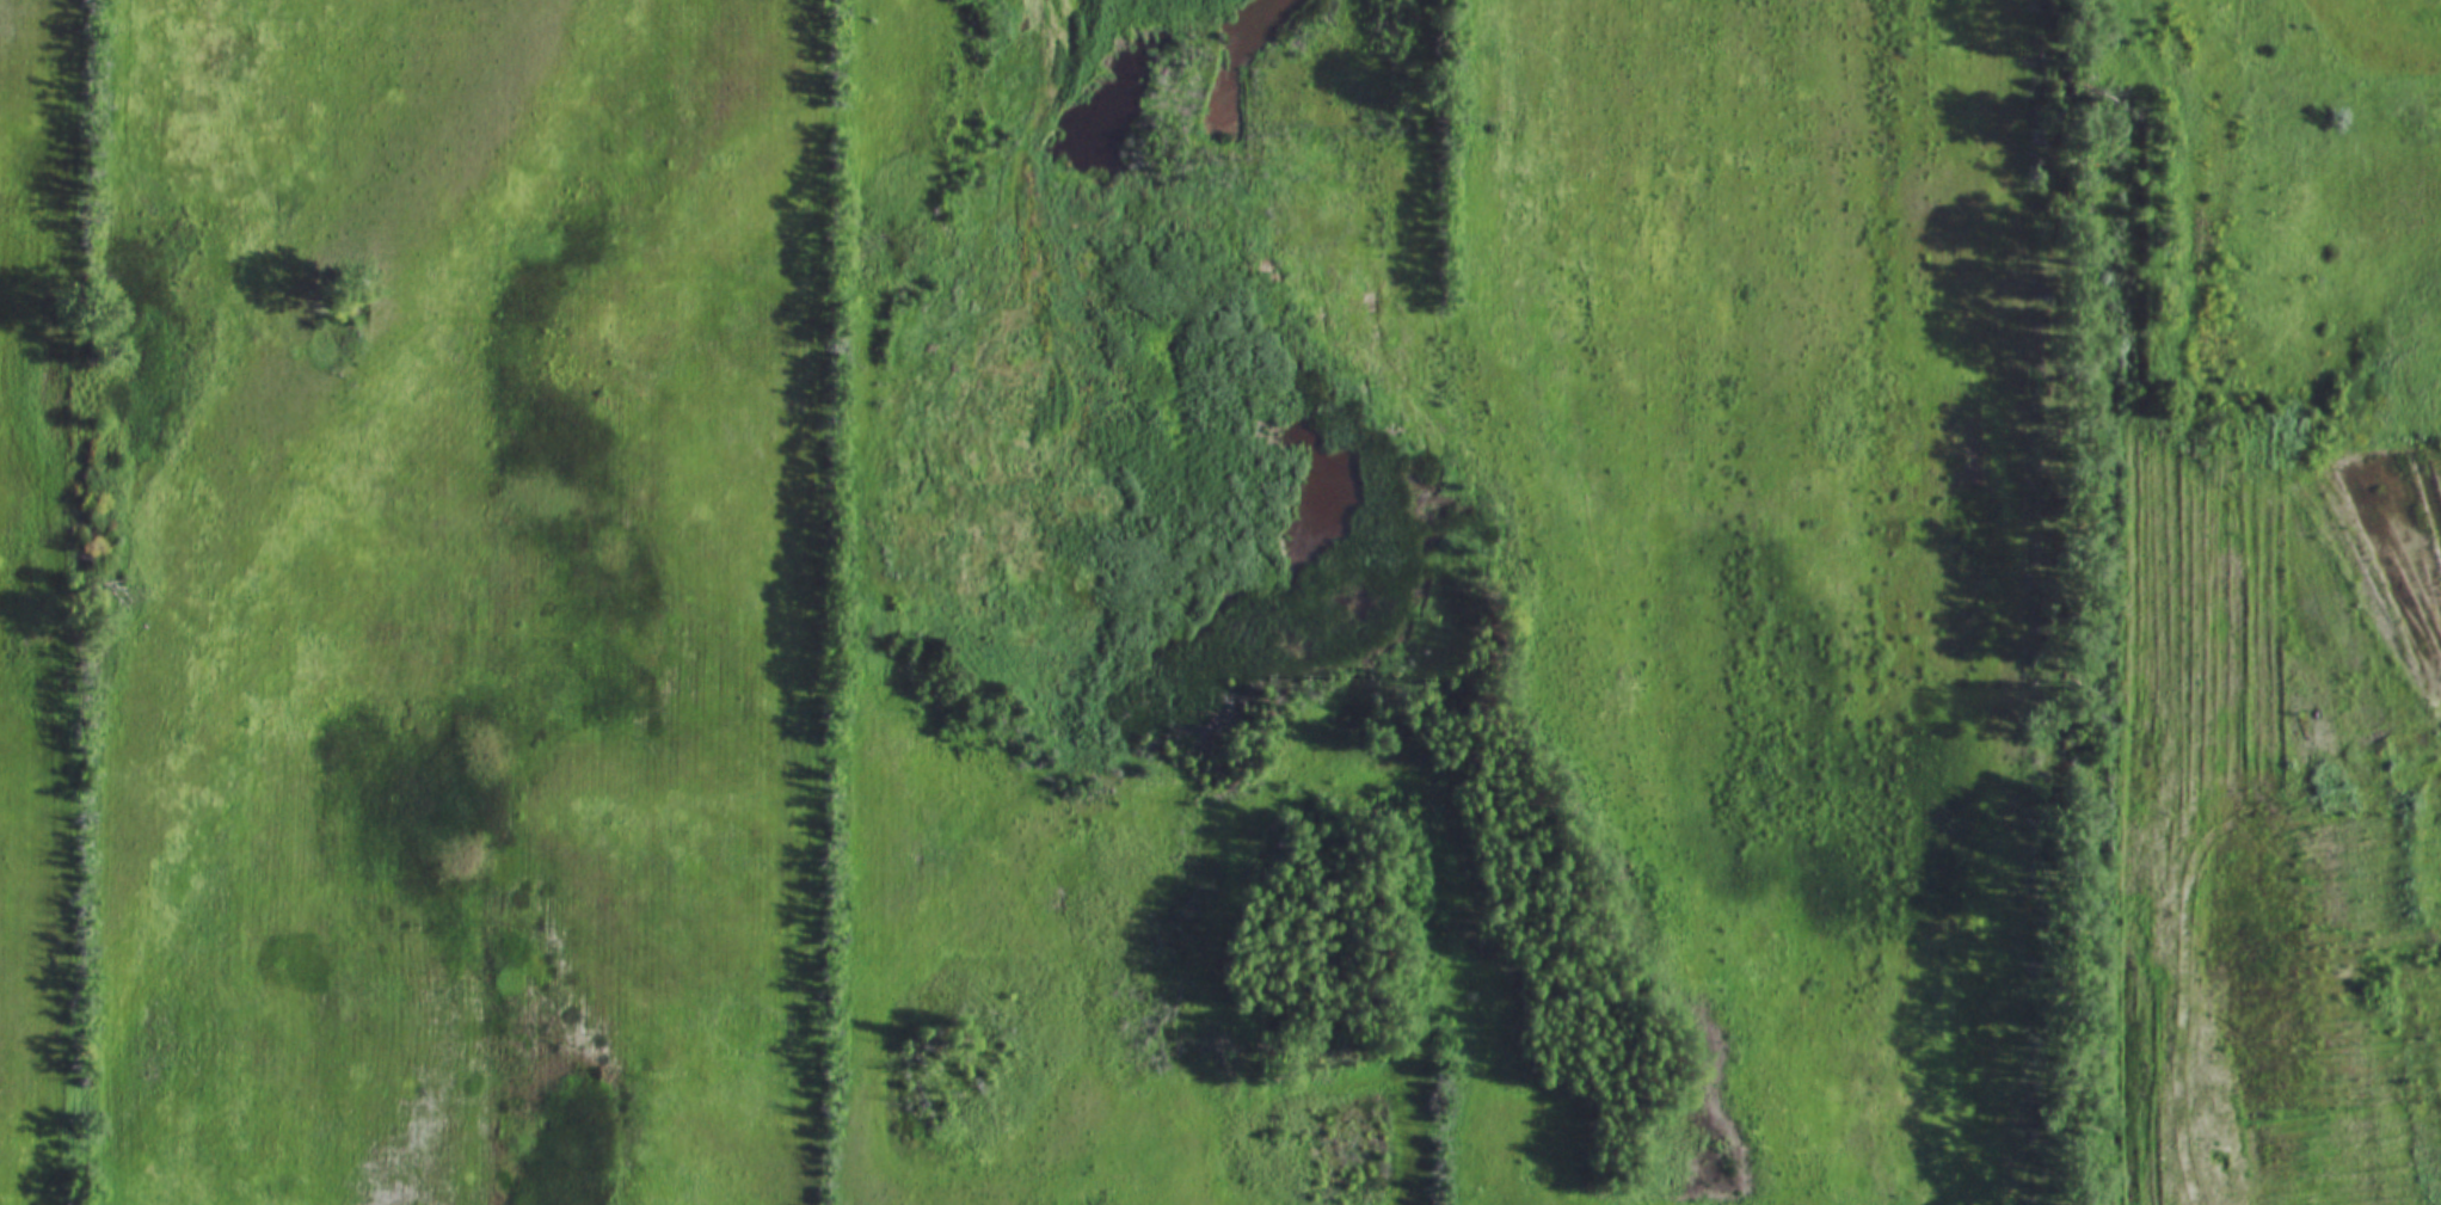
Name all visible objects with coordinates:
quarry: (1139, 81)
road: (1046, 122)

